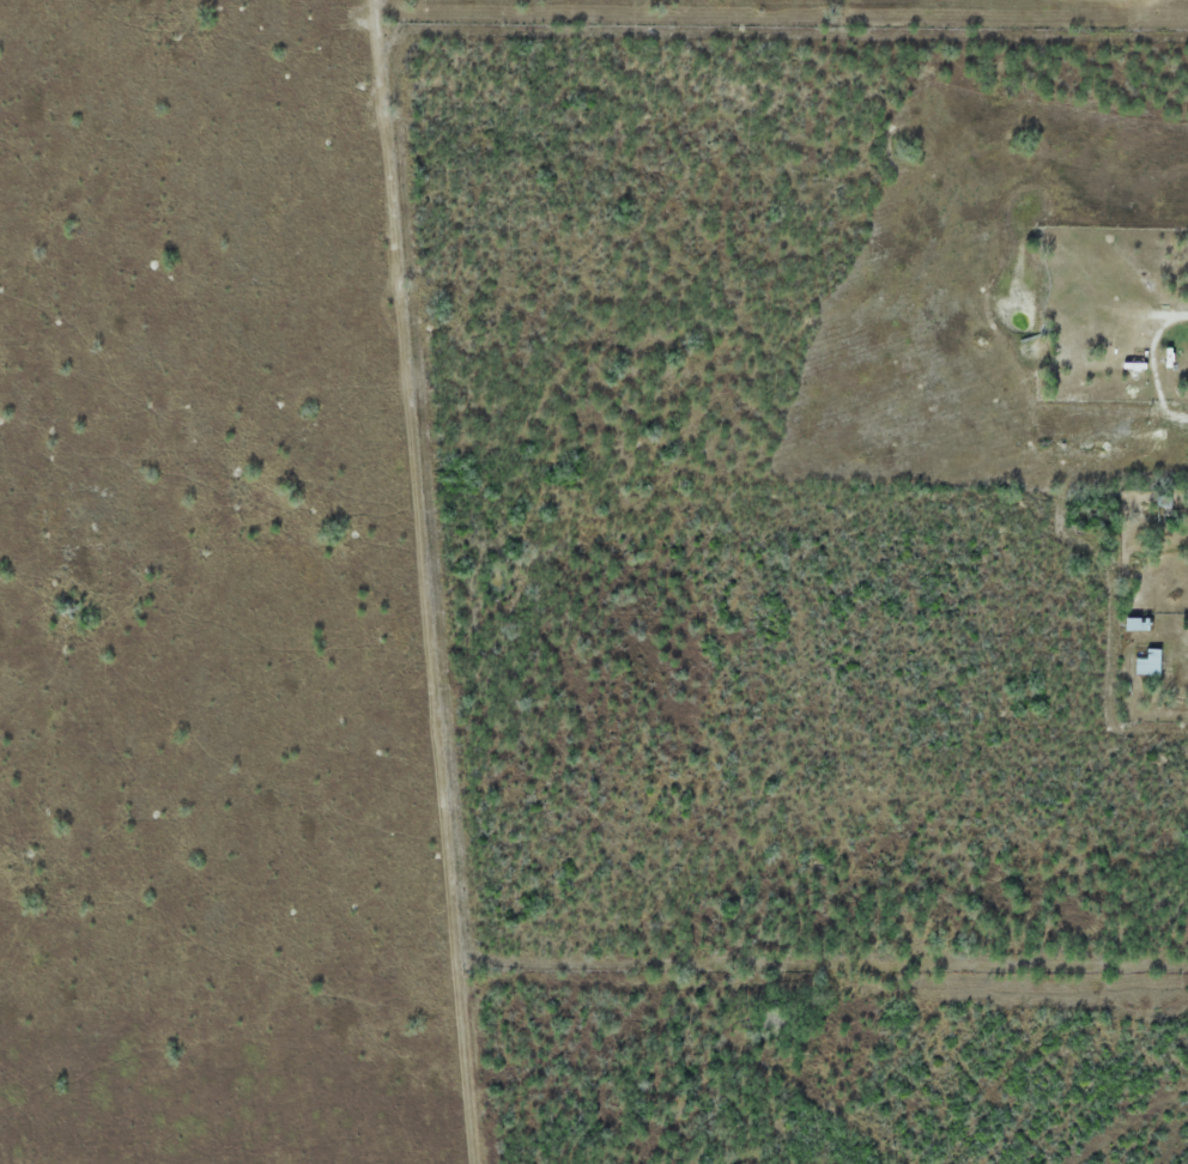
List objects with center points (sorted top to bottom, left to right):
building: (1164, 508)
building: (1138, 624)
building: (1147, 661)

